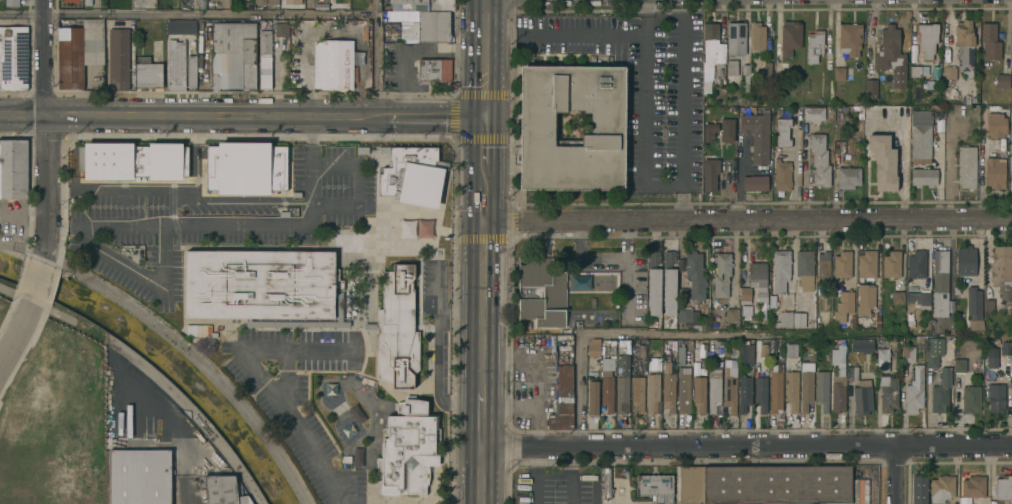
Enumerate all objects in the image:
building: (12, 2)
building: (87, 2)
building: (272, 2)
building: (259, 4)
building: (421, 5)
road: (186, 14)
building: (181, 26)
building: (433, 26)
building: (281, 29)
building: (757, 36)
road: (581, 37)
building: (789, 37)
building: (737, 38)
building: (849, 38)
building: (926, 38)
building: (96, 41)
building: (990, 41)
building: (265, 42)
building: (814, 45)
building: (964, 46)
building: (72, 51)
road: (413, 51)
building: (709, 54)
building: (219, 55)
building: (241, 55)
building: (891, 55)
building: (13, 57)
road: (374, 57)
road: (483, 57)
building: (118, 58)
building: (143, 58)
building: (175, 64)
building: (332, 64)
building: (780, 66)
building: (191, 67)
building: (732, 67)
building: (433, 69)
building: (915, 70)
building: (264, 72)
building: (767, 72)
building: (839, 72)
building: (751, 74)
building: (148, 75)
building: (950, 76)
building: (745, 77)
building: (1002, 80)
parking lot: (638, 85)
building: (870, 89)
building: (813, 113)
road: (241, 114)
building: (859, 119)
building: (537, 123)
building: (991, 123)
road: (43, 130)
building: (720, 130)
building: (783, 131)
building: (756, 135)
building: (920, 137)
road: (482, 140)
road: (311, 141)
building: (996, 144)
building: (819, 159)
road: (901, 159)
building: (135, 160)
building: (882, 161)
building: (966, 166)
building: (13, 168)
building: (224, 168)
building: (263, 168)
building: (392, 171)
building: (995, 172)
building: (710, 173)
building: (781, 174)
road: (804, 174)
road: (482, 177)
building: (847, 177)
building: (923, 177)
building: (754, 182)
road: (668, 185)
road: (104, 190)
road: (482, 205)
road: (747, 221)
road: (268, 223)
building: (405, 229)
building: (423, 229)
road: (21, 245)
road: (792, 250)
building: (965, 260)
building: (842, 263)
building: (866, 264)
building: (891, 264)
building: (916, 264)
building: (804, 265)
building: (823, 267)
building: (780, 270)
building: (1002, 272)
building: (695, 274)
building: (721, 274)
building: (654, 277)
building: (758, 279)
road: (36, 281)
building: (602, 282)
building: (260, 283)
building: (579, 283)
building: (668, 283)
building: (940, 283)
building: (956, 290)
building: (541, 291)
building: (744, 295)
building: (898, 297)
building: (918, 299)
building: (864, 300)
building: (772, 301)
building: (973, 302)
building: (339, 304)
building: (987, 305)
building: (843, 306)
road: (482, 307)
building: (762, 309)
building: (745, 311)
building: (731, 314)
building: (687, 316)
building: (784, 319)
building: (798, 319)
building: (975, 324)
building: (369, 325)
building: (1011, 325)
building: (397, 328)
building: (195, 331)
road: (594, 332)
road: (14, 333)
building: (920, 339)
building: (862, 345)
building: (594, 347)
building: (1006, 347)
building: (733, 349)
building: (763, 349)
building: (701, 350)
building: (791, 350)
building: (641, 351)
building: (933, 351)
building: (745, 352)
building: (907, 354)
building: (680, 355)
building: (883, 359)
building: (990, 359)
building: (959, 365)
building: (590, 367)
building: (851, 372)
building: (838, 379)
building: (622, 384)
building: (806, 385)
building: (730, 388)
building: (775, 388)
building: (713, 389)
building: (791, 389)
building: (684, 390)
building: (822, 390)
building: (914, 390)
building: (668, 391)
building: (941, 391)
road: (267, 392)
building: (699, 392)
building: (606, 393)
building: (637, 393)
building: (652, 393)
building: (744, 393)
building: (760, 393)
building: (889, 395)
building: (593, 397)
building: (970, 398)
building: (996, 398)
building: (562, 400)
building: (862, 400)
building: (355, 414)
road: (483, 421)
building: (347, 427)
road: (747, 446)
building: (407, 448)
building: (356, 457)
building: (346, 458)
road: (535, 461)
road: (552, 474)
road: (898, 474)
building: (140, 476)
road: (482, 476)
road: (595, 476)
building: (692, 484)
building: (777, 484)
building: (654, 486)
building: (973, 486)
building: (1003, 487)
building: (941, 488)
road: (534, 489)
road: (569, 489)
building: (919, 489)
building: (222, 490)

